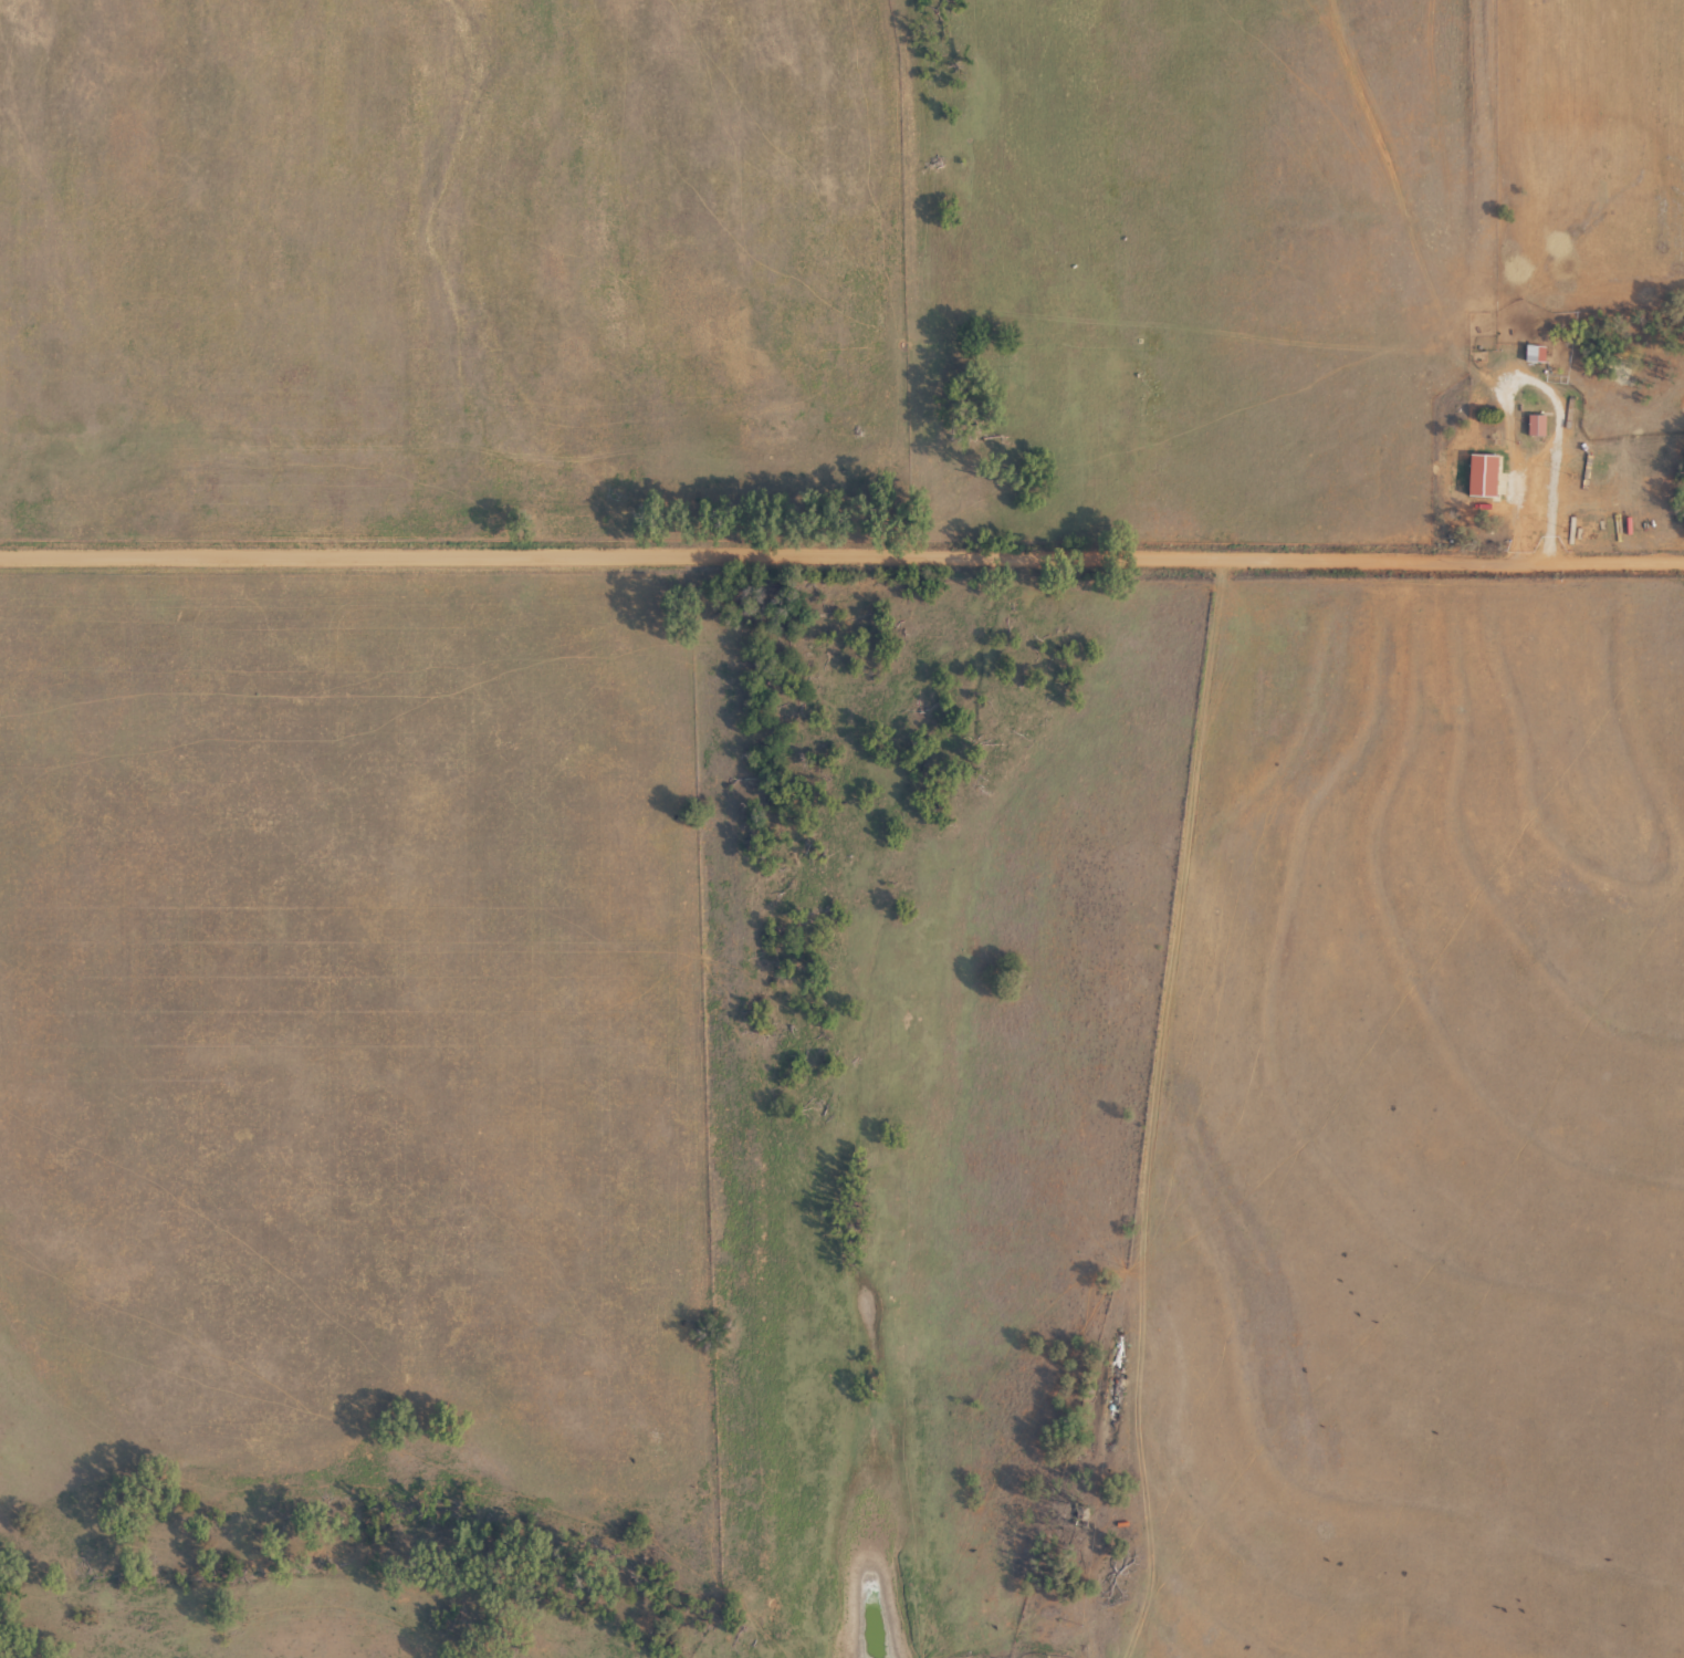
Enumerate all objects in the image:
building: (1541, 423)
road: (841, 557)
crop: (841, 828)
road: (1121, 1105)

